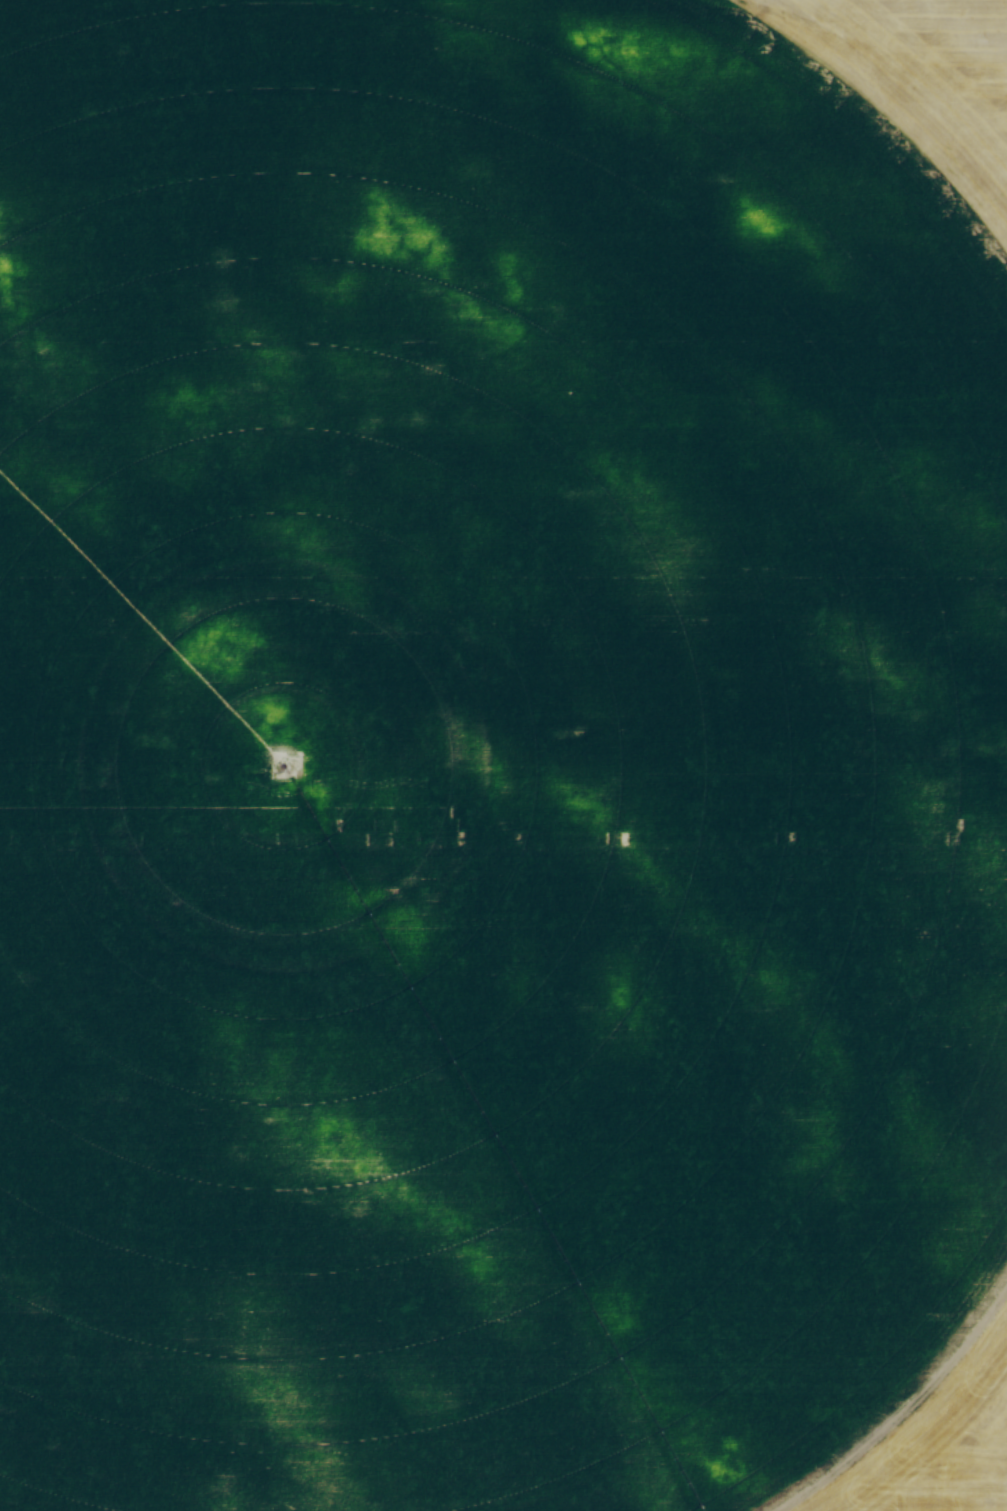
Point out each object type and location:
crop: (503, 755)

